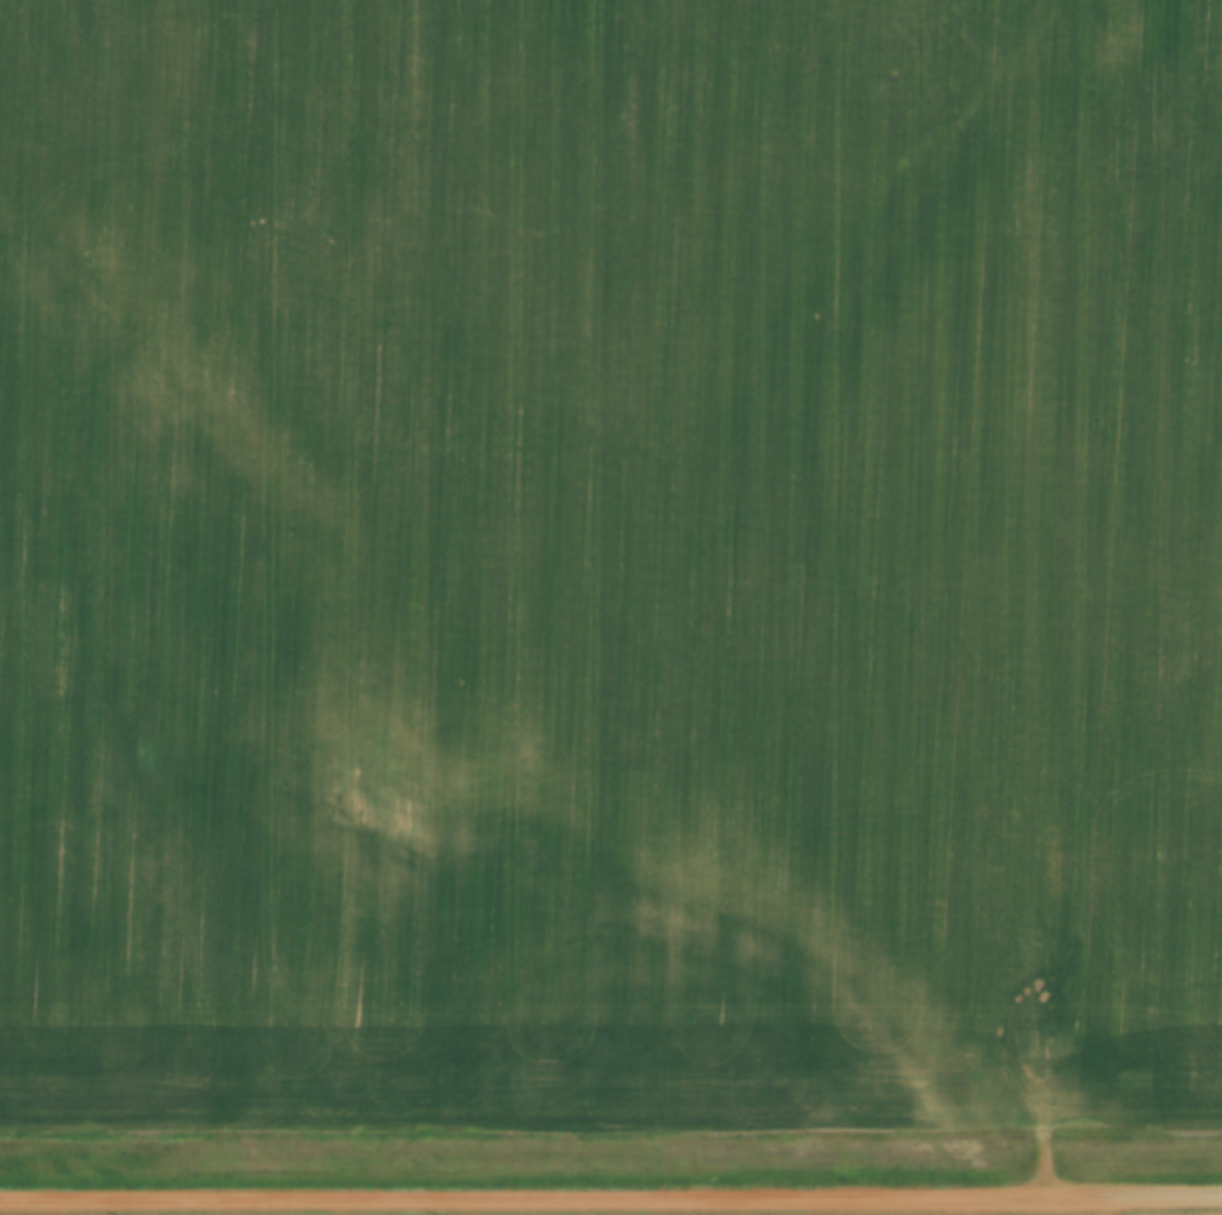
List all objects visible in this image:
road: (611, 1202)

